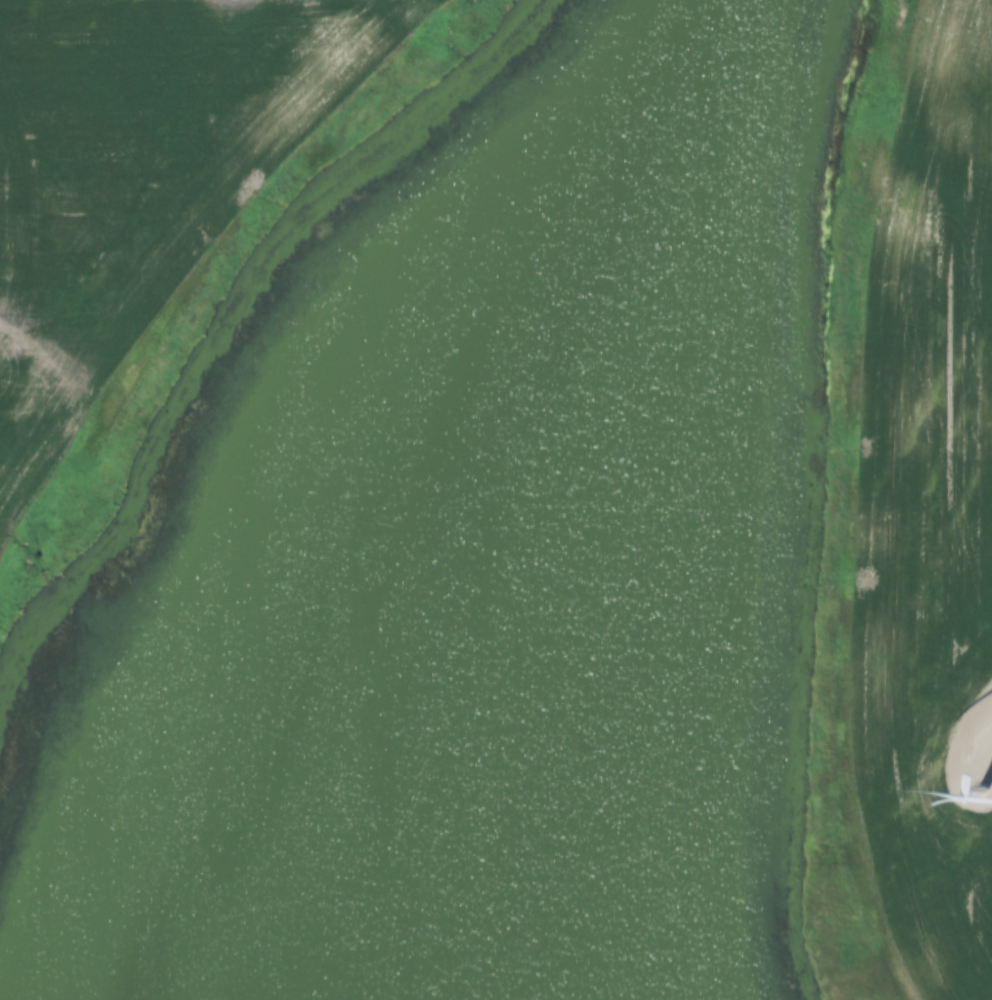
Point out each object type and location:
wind turbine: (972, 785)

